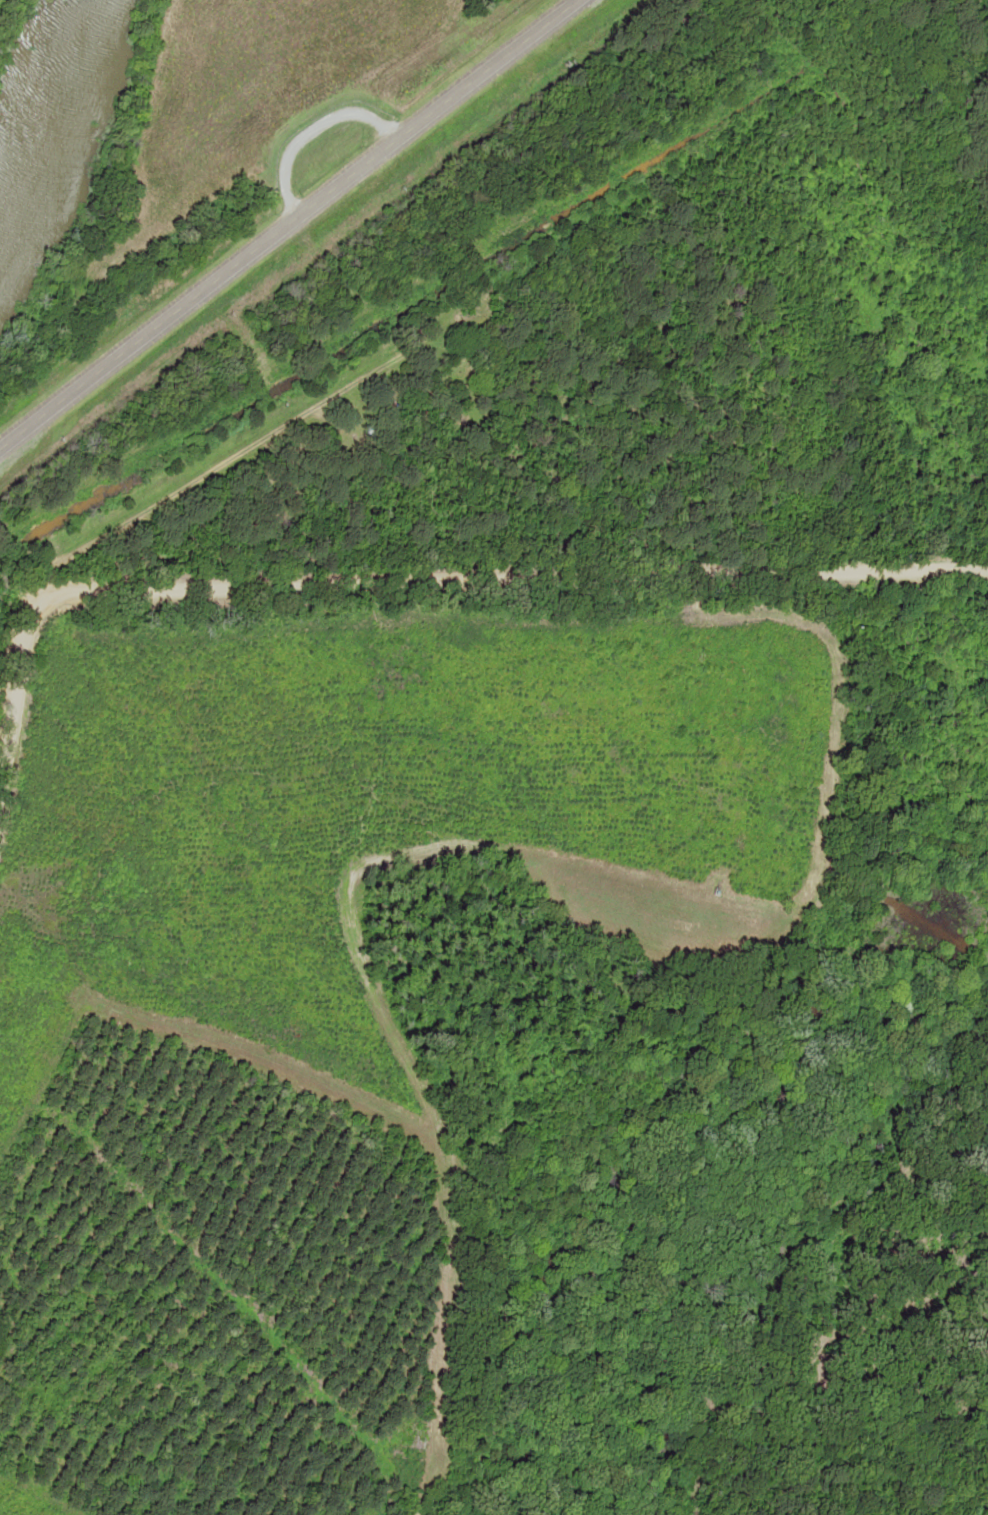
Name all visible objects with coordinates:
road: (372, 154)
road: (88, 377)
road: (392, 583)

